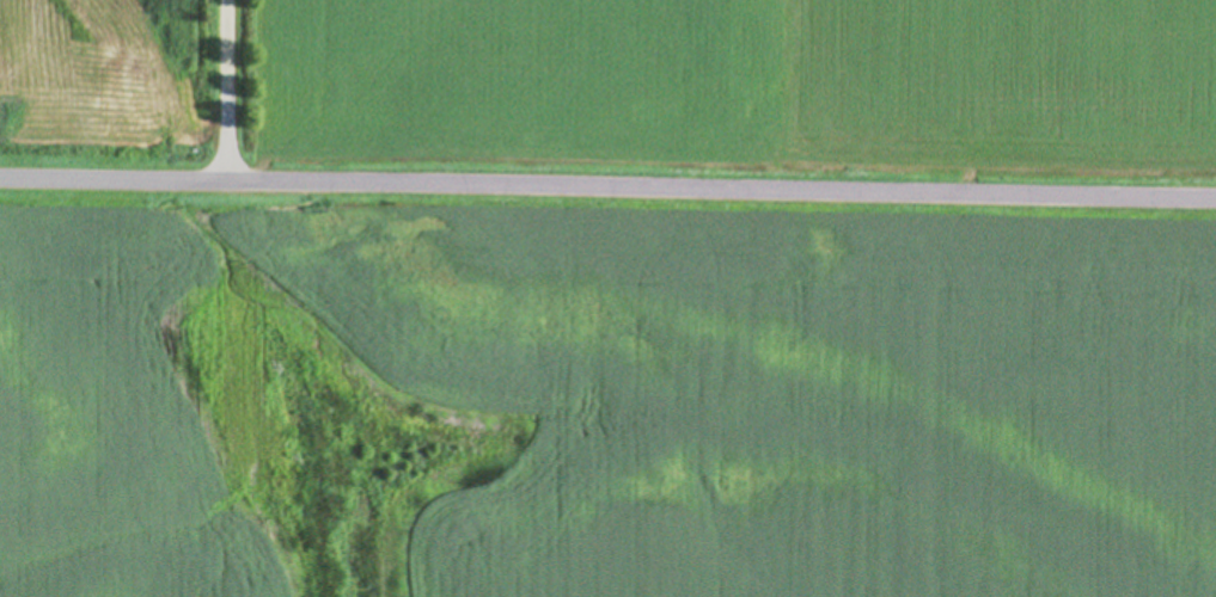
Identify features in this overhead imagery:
road: (236, 105)
road: (607, 220)

